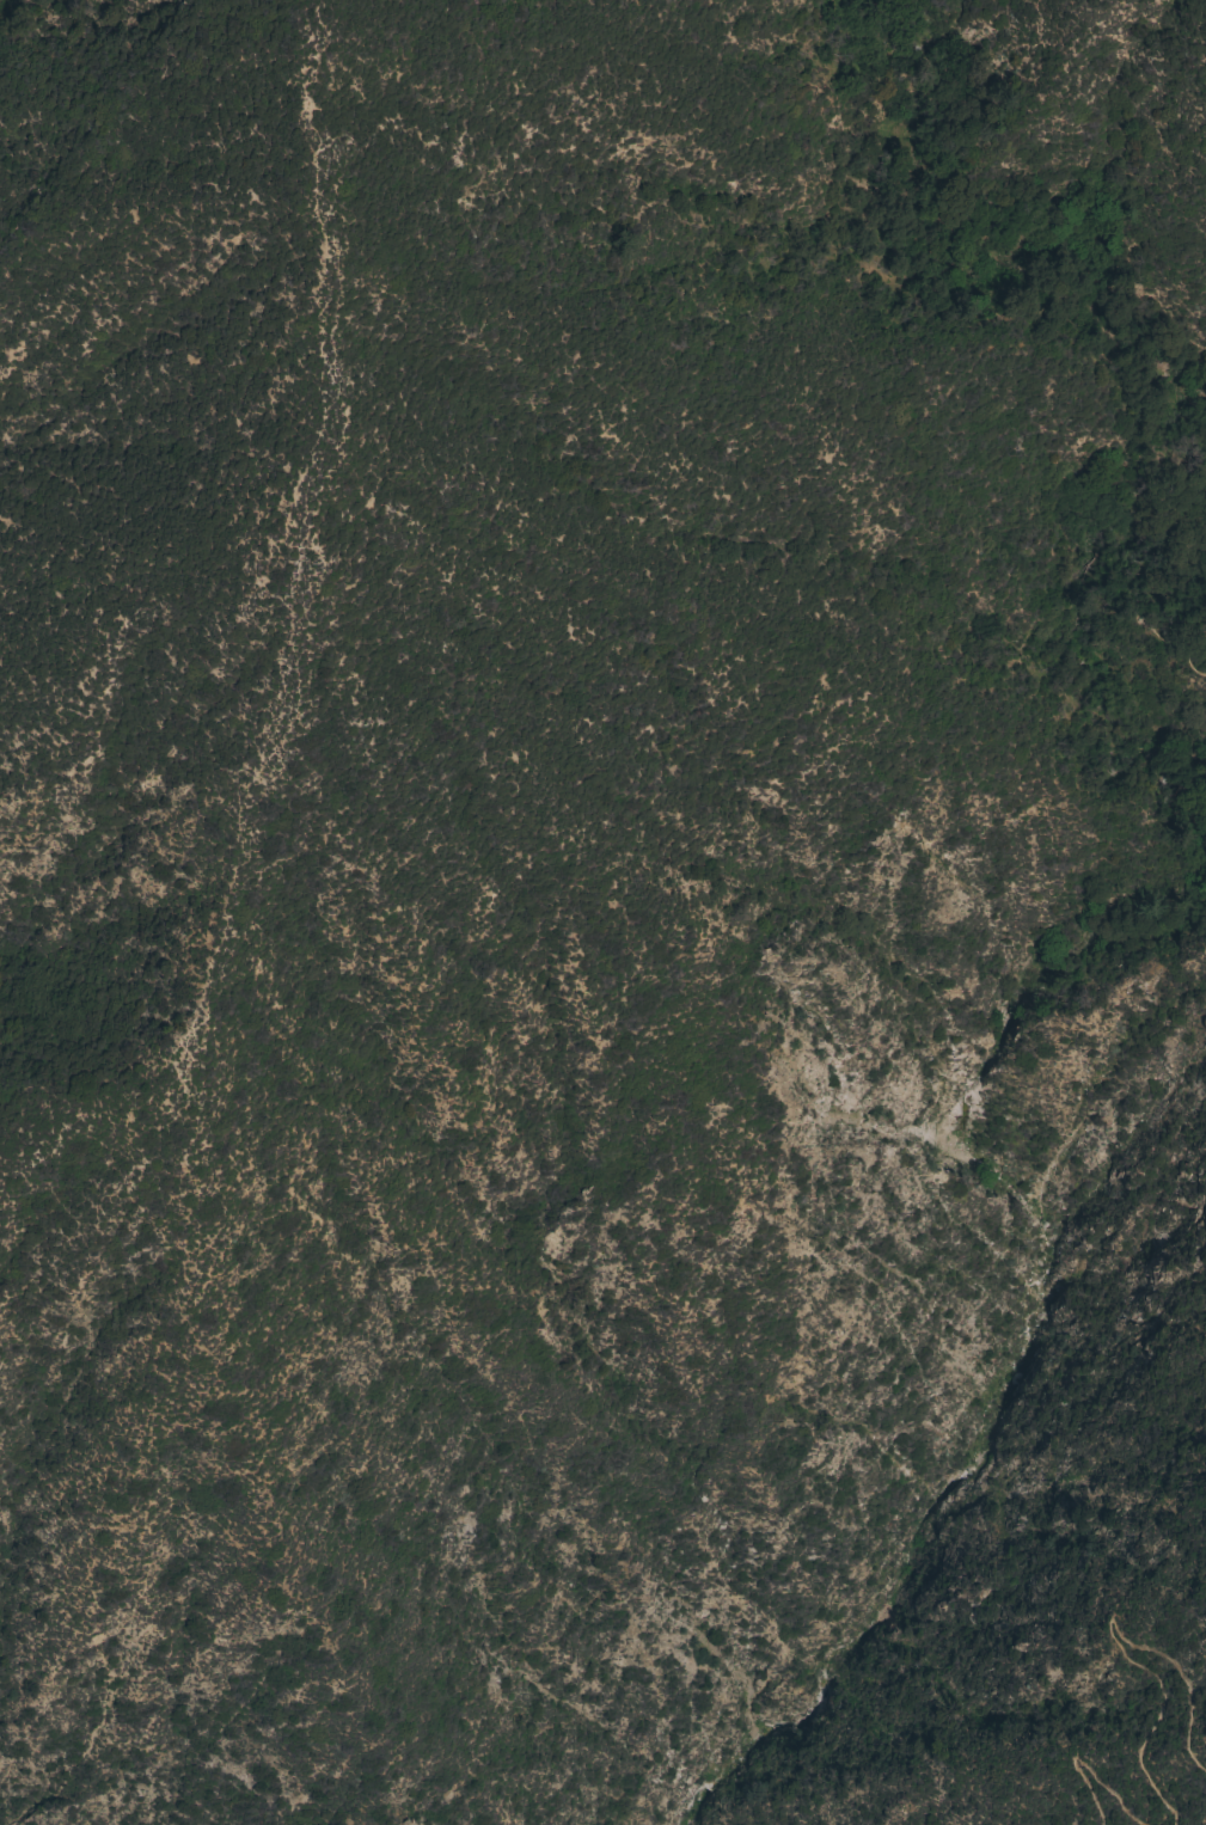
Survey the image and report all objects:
road: (1174, 631)
road: (1196, 670)
road: (1112, 1645)
road: (1080, 1769)

